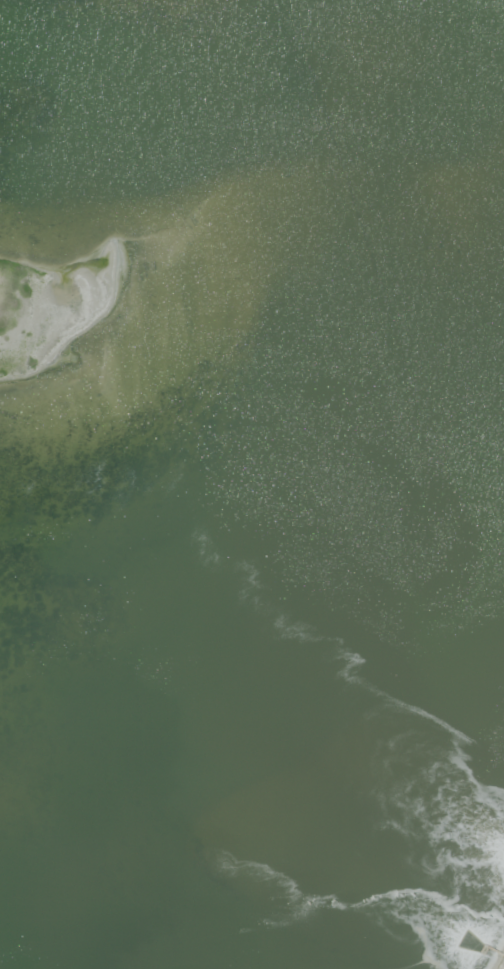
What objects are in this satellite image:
power plant: (252, 484)
road: (503, 967)

